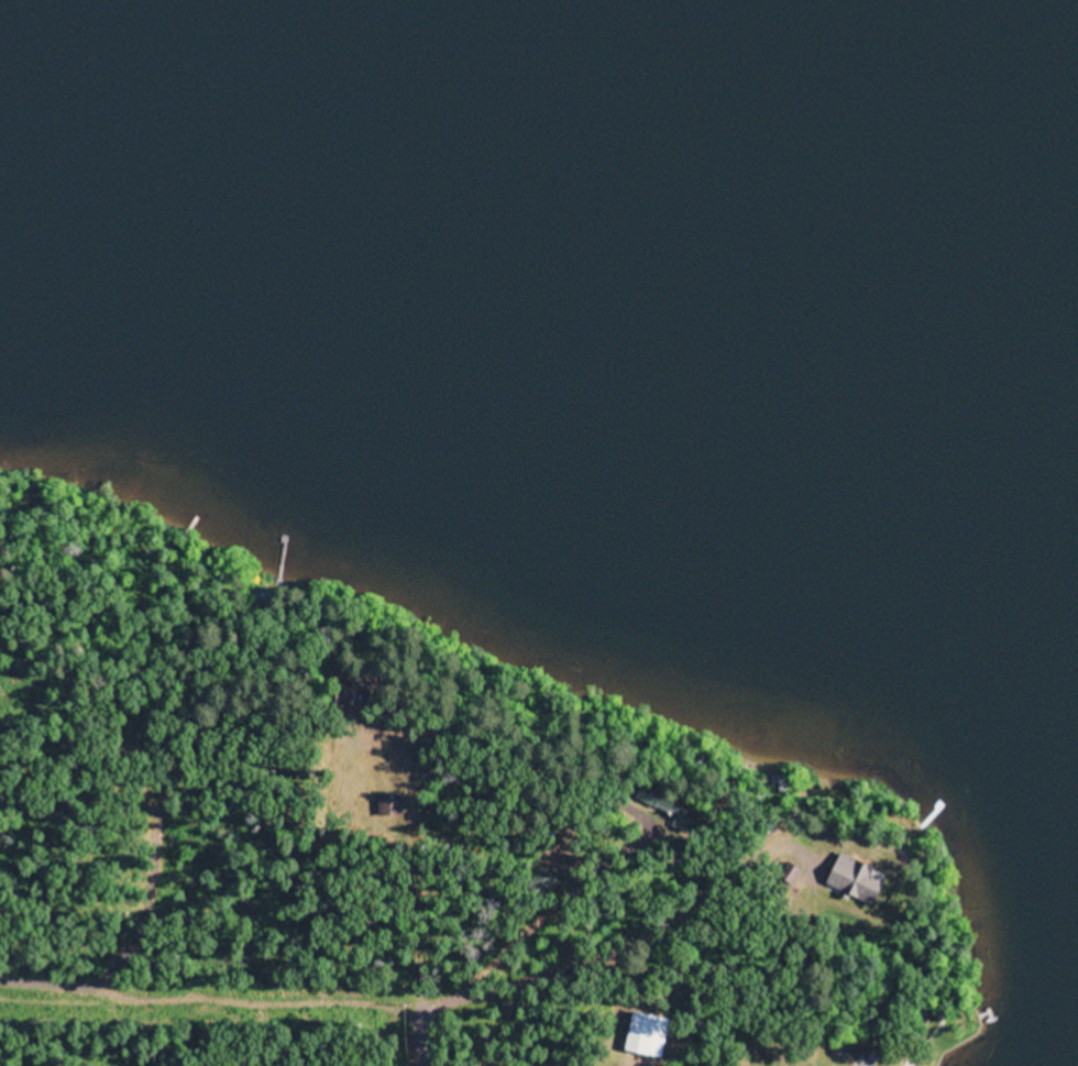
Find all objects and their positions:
road: (420, 1016)
building: (654, 1036)

